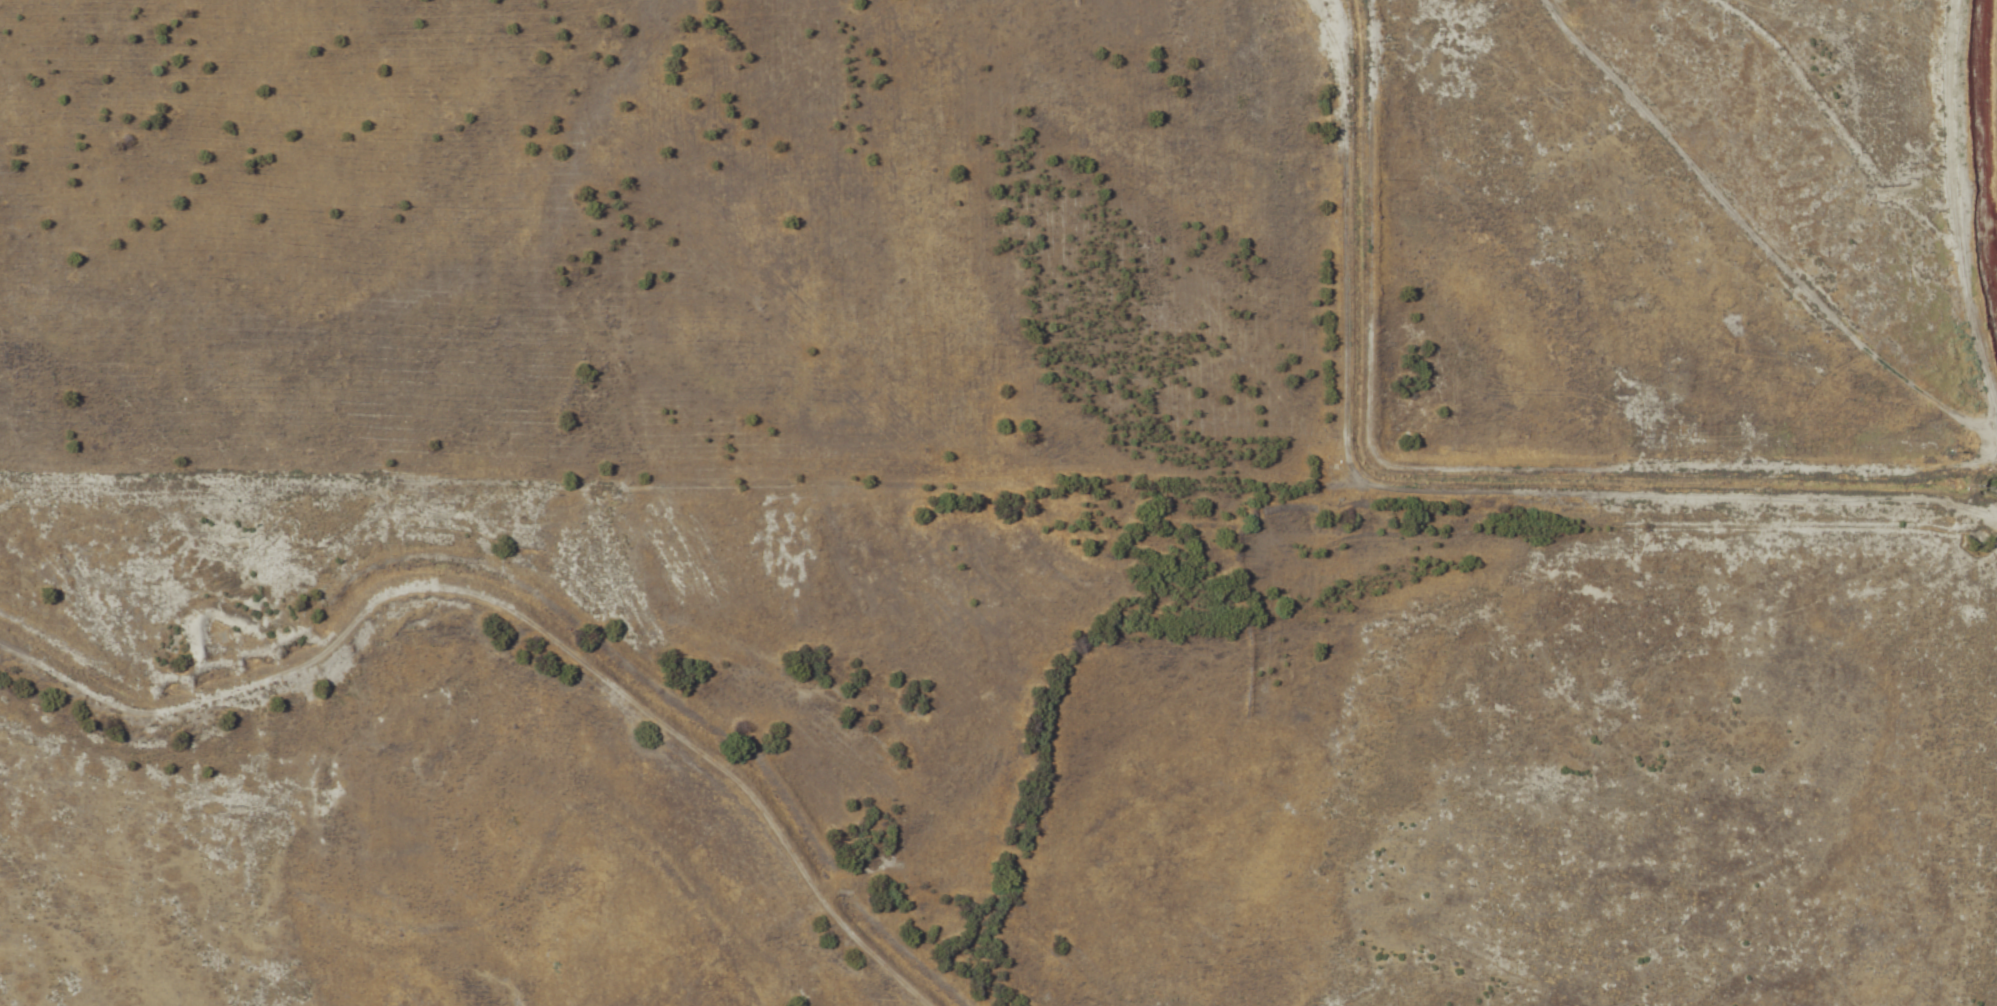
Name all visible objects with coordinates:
road: (1919, 249)

